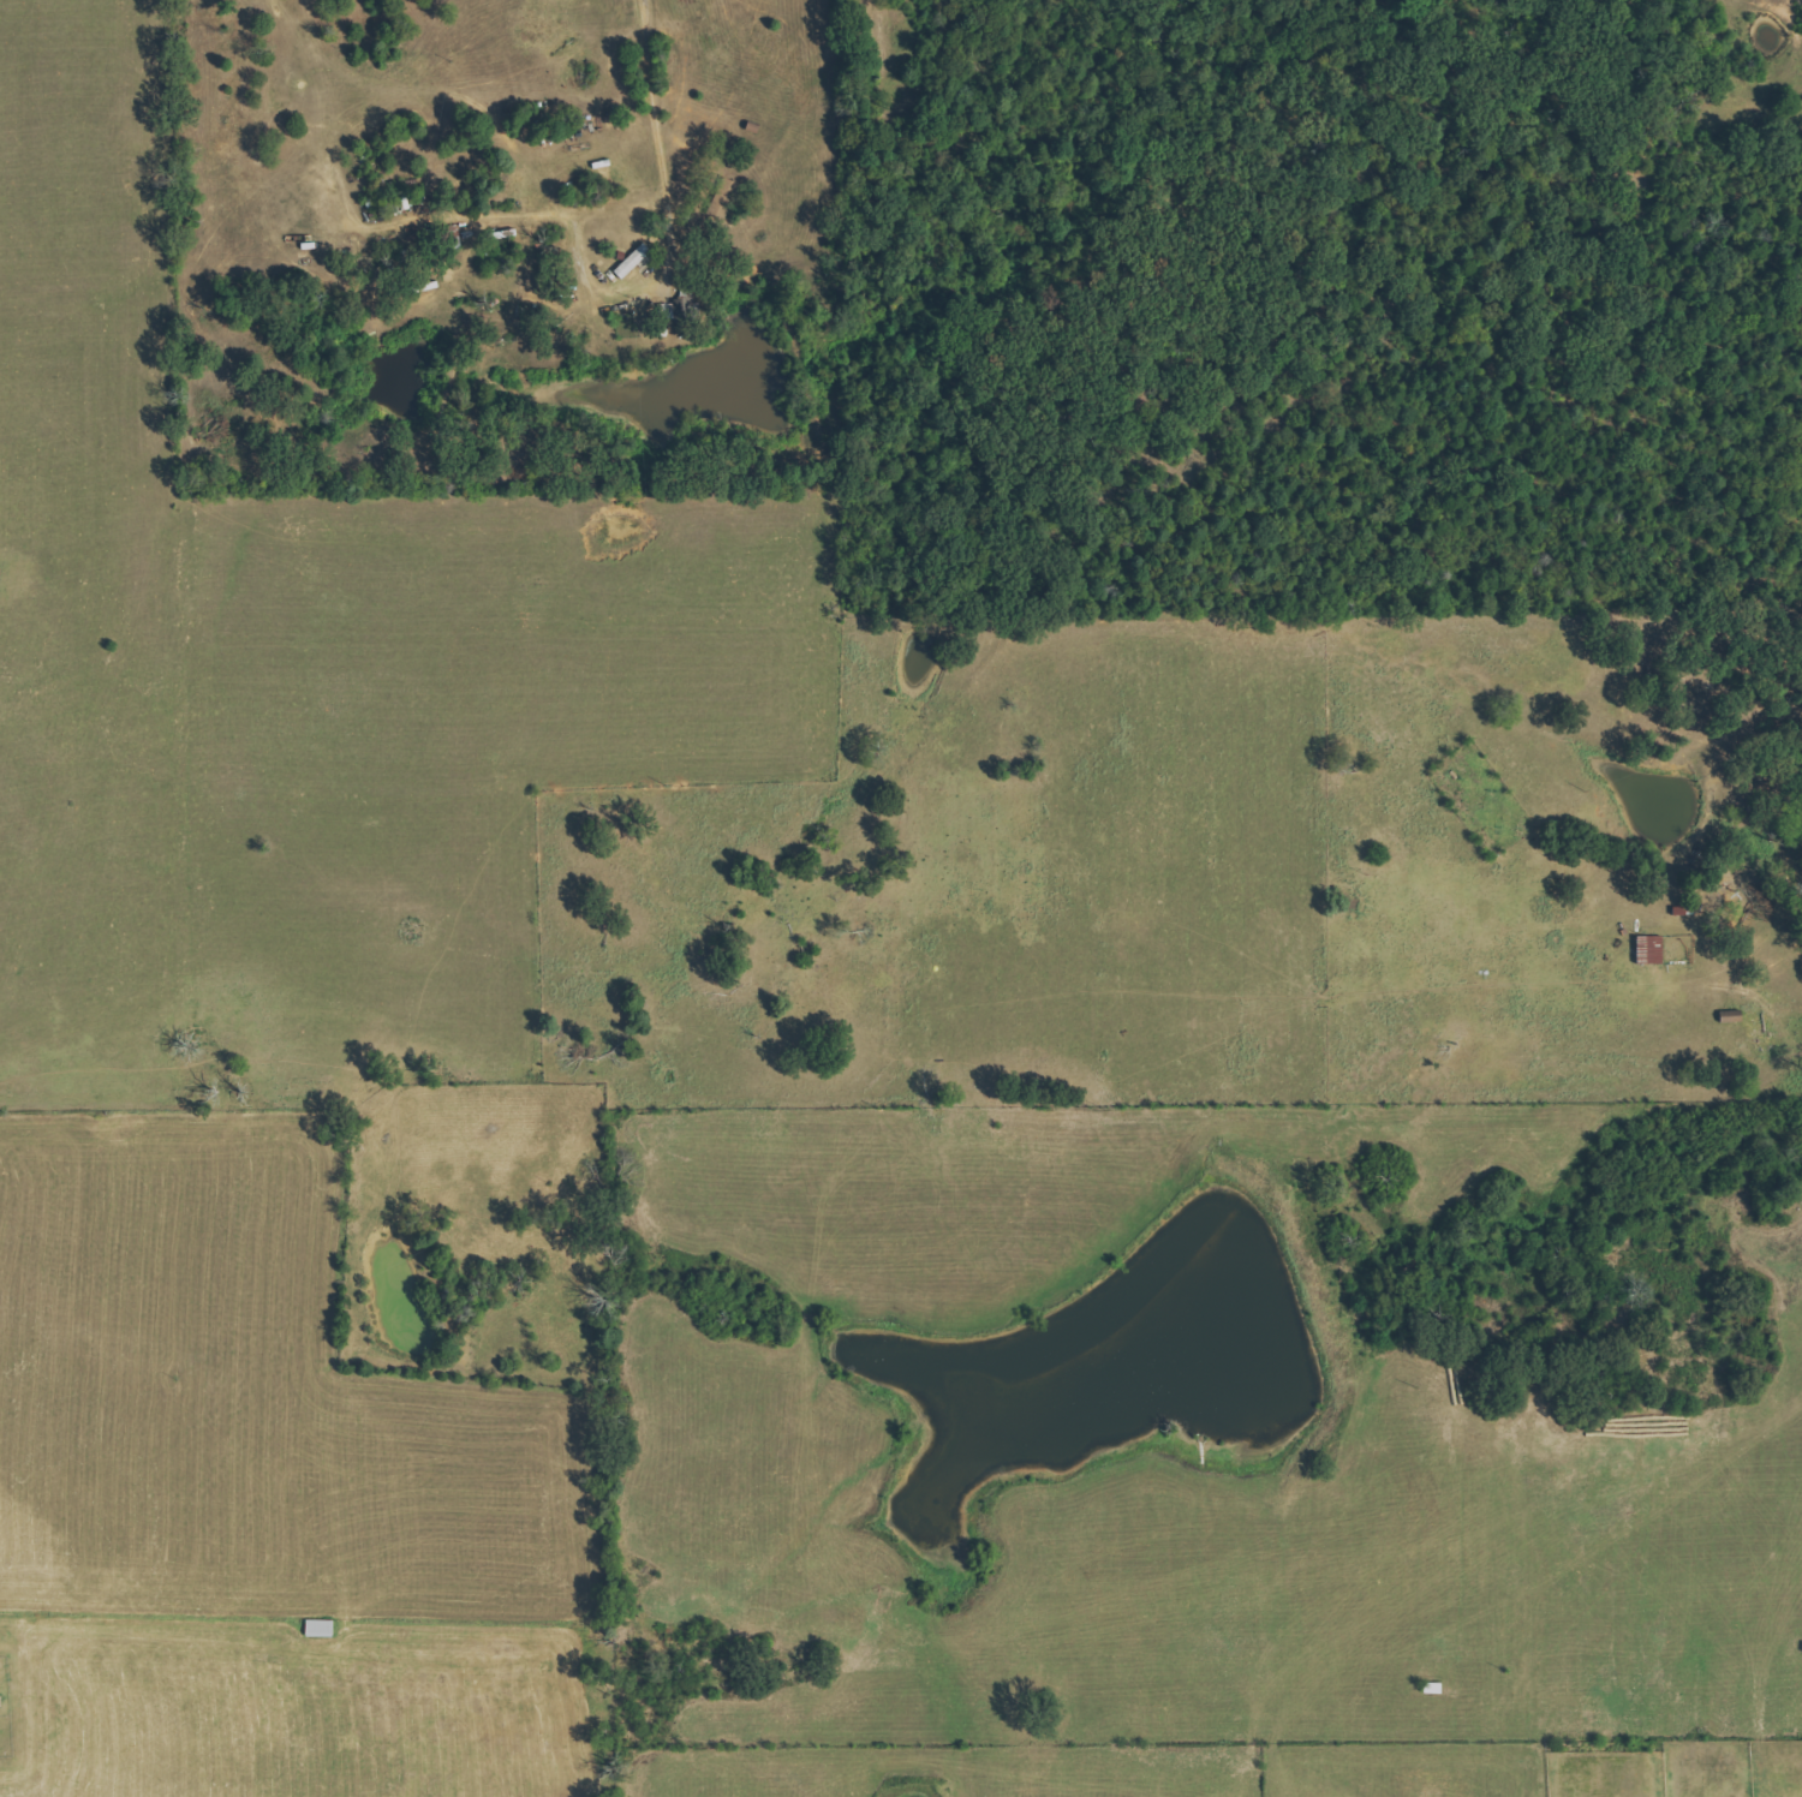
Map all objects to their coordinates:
road: (652, 97)
building: (636, 262)
building: (681, 311)
building: (1653, 950)
road: (1770, 1075)

